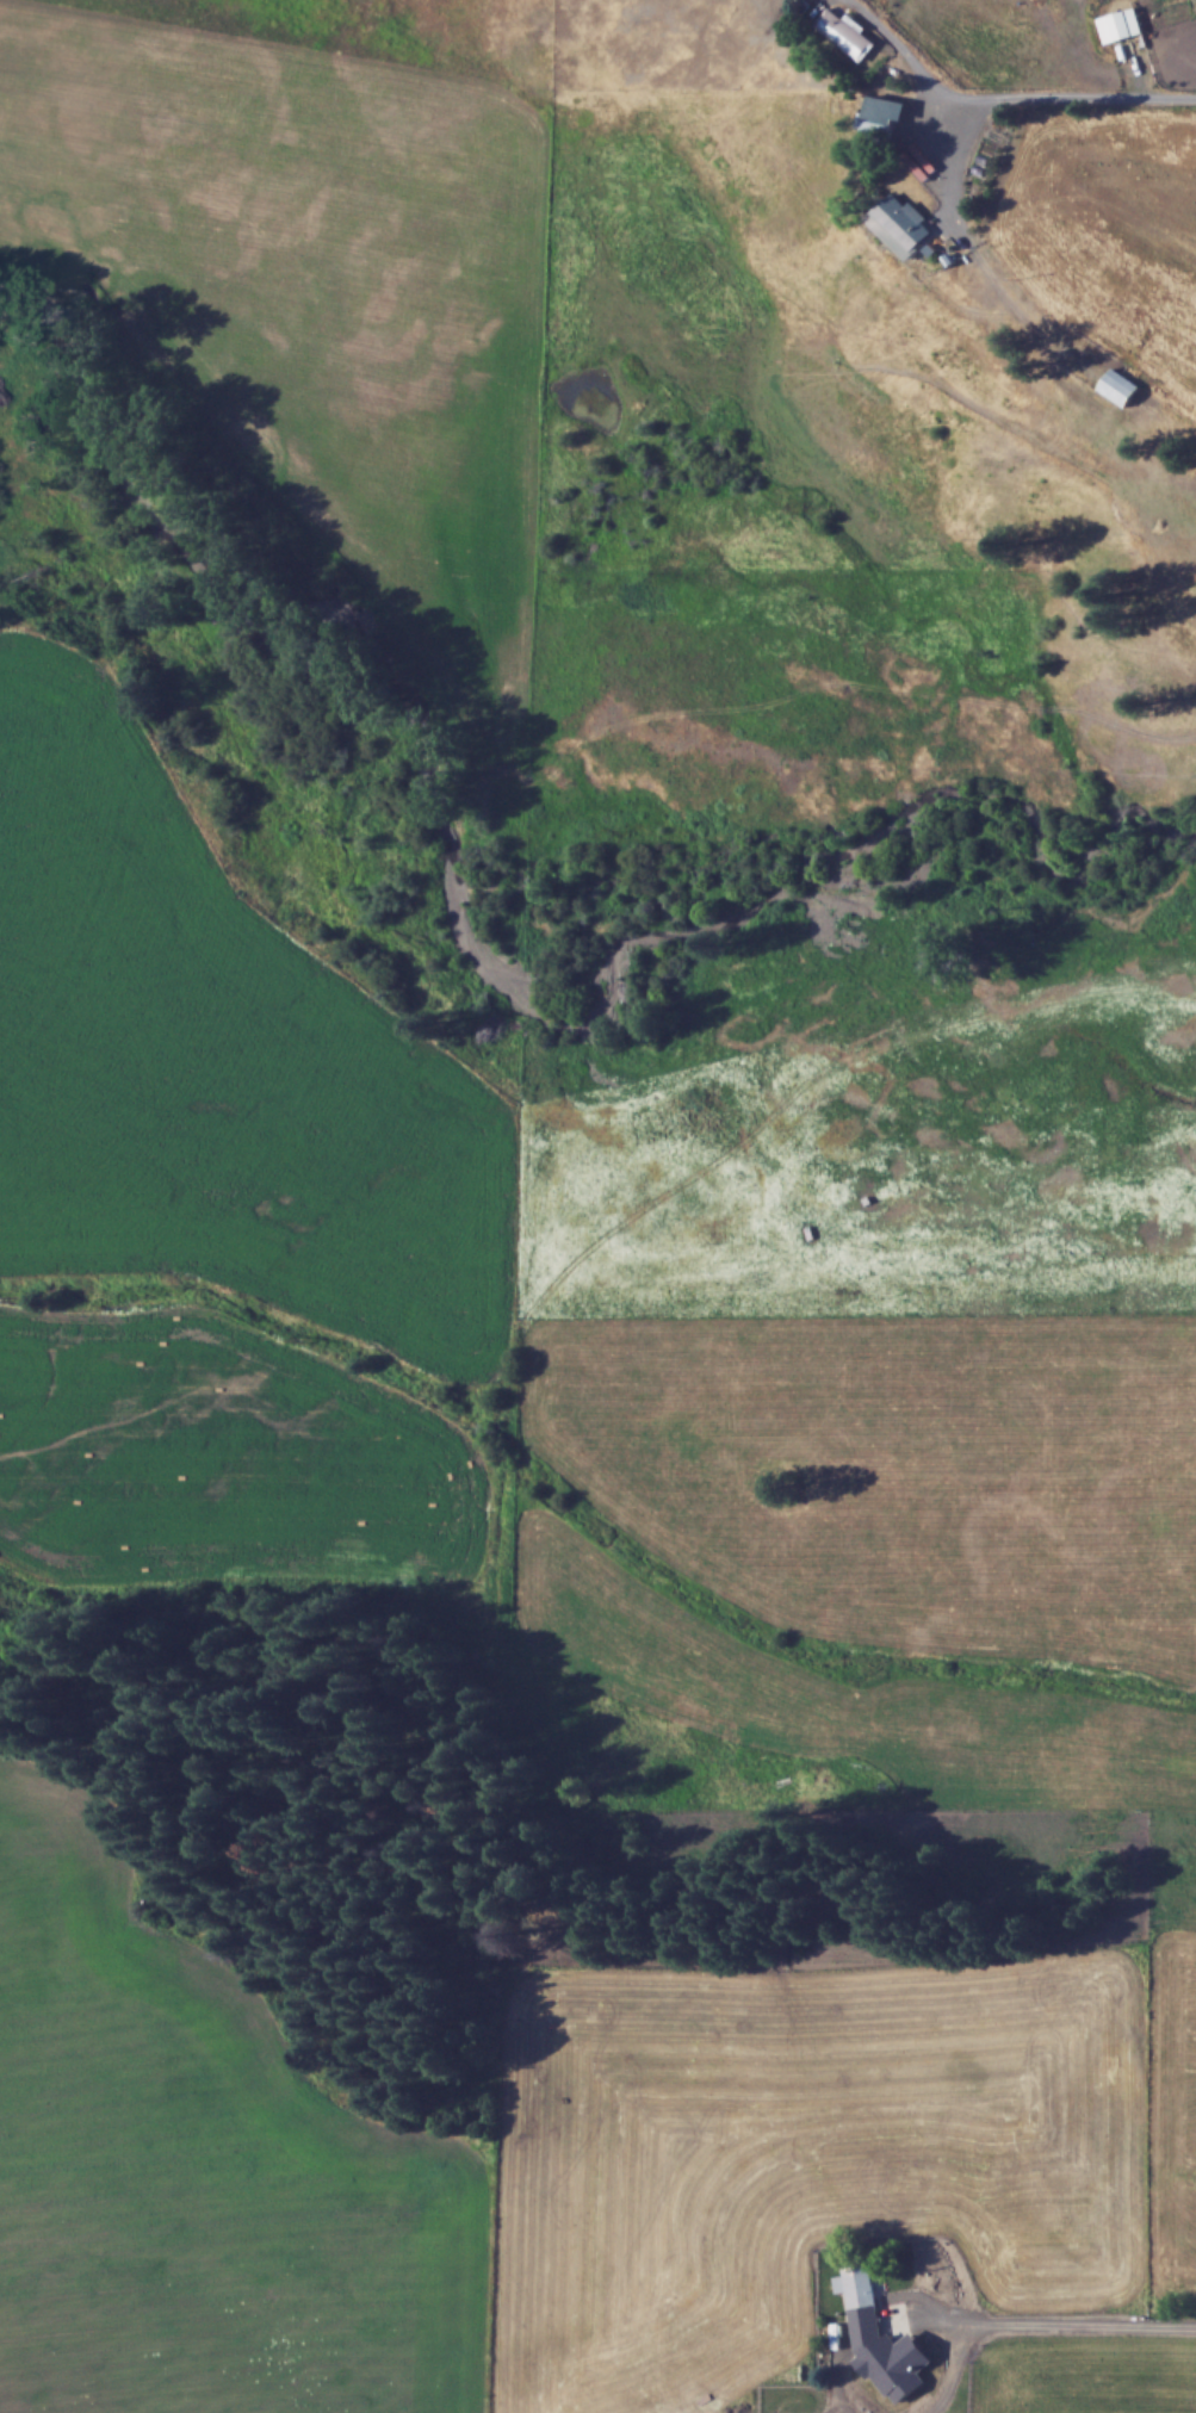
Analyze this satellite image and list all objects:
building: (1126, 23)
building: (847, 33)
road: (1051, 93)
building: (879, 118)
building: (905, 222)
building: (1120, 386)
building: (856, 2285)
road: (1034, 2321)

